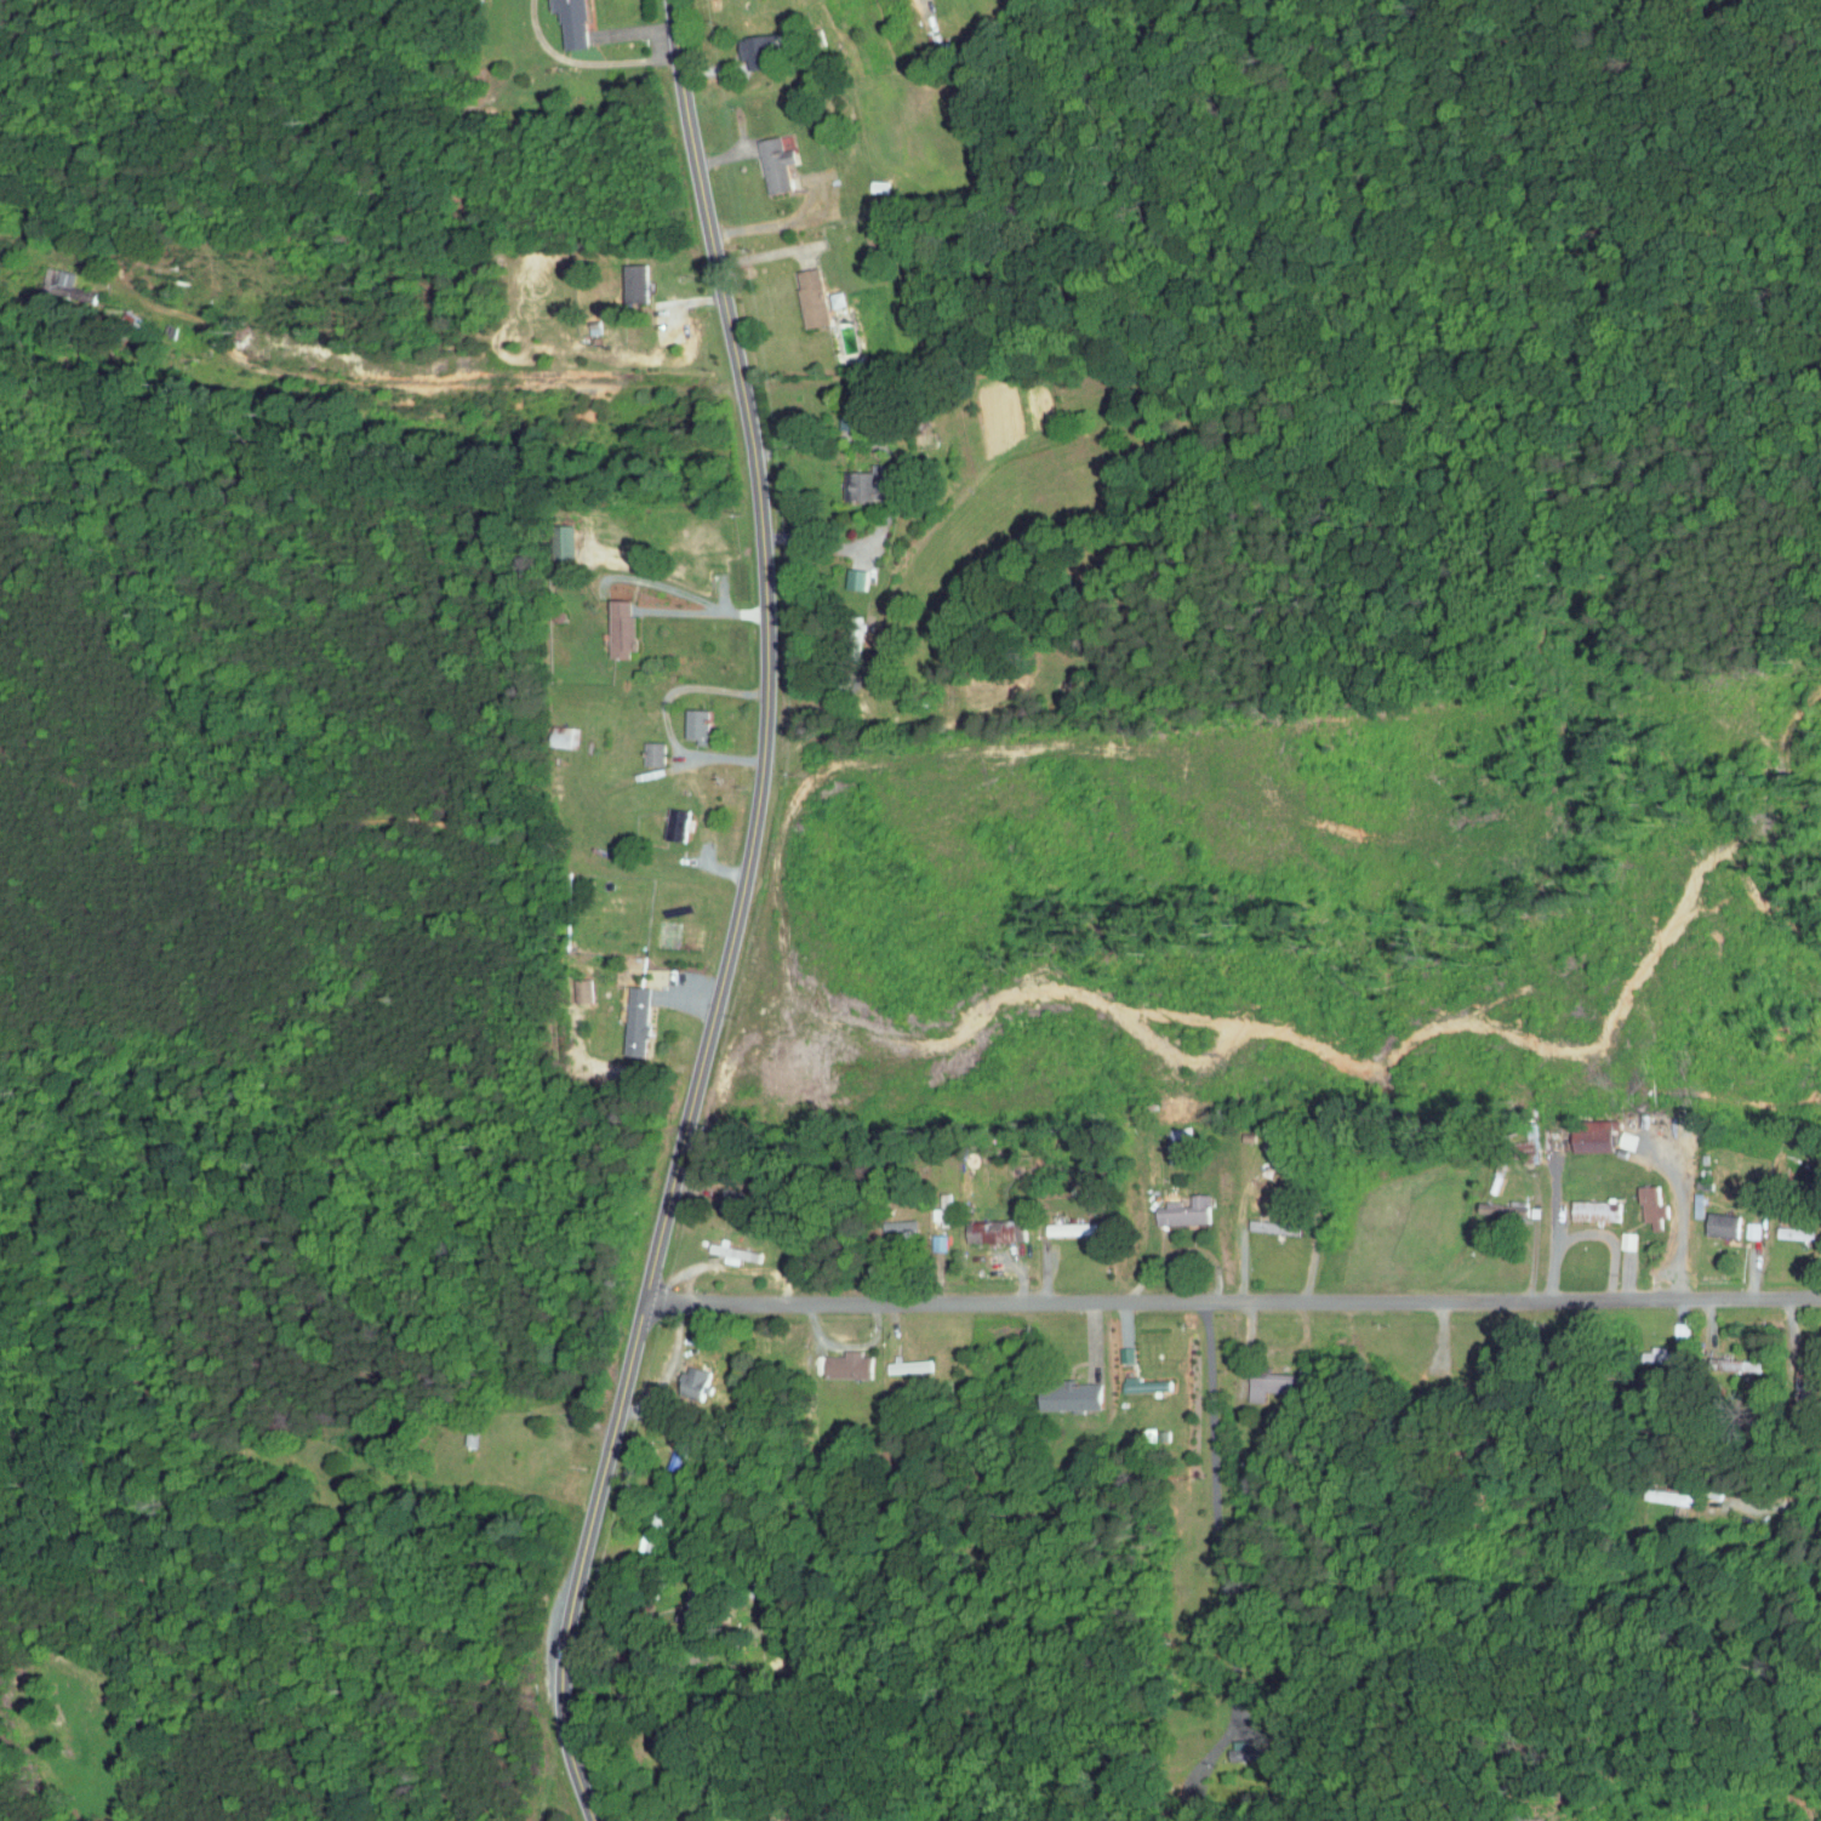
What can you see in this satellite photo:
building: (564, 19)
road: (633, 30)
building: (749, 45)
building: (766, 158)
building: (863, 239)
building: (623, 275)
building: (803, 291)
road: (415, 389)
road: (812, 441)
building: (858, 478)
building: (846, 572)
road: (691, 596)
building: (612, 620)
building: (687, 717)
road: (663, 718)
building: (644, 747)
building: (666, 817)
road: (736, 918)
building: (627, 1015)
building: (1571, 1130)
building: (1169, 1141)
road: (1274, 1171)
building: (1637, 1200)
building: (1580, 1204)
building: (1175, 1205)
building: (1485, 1205)
road: (1683, 1216)
building: (1063, 1222)
building: (891, 1223)
building: (986, 1225)
building: (1737, 1225)
road: (1554, 1226)
building: (1777, 1226)
building: (1612, 1234)
road: (1611, 1240)
building: (724, 1246)
road: (1532, 1263)
road: (1773, 1300)
road: (1182, 1302)
building: (1637, 1348)
building: (1714, 1358)
building: (839, 1359)
building: (900, 1359)
road: (1411, 1360)
road: (1709, 1366)
building: (686, 1378)
building: (1135, 1378)
building: (1263, 1380)
building: (1064, 1391)
road: (1774, 1505)
road: (1216, 1511)

